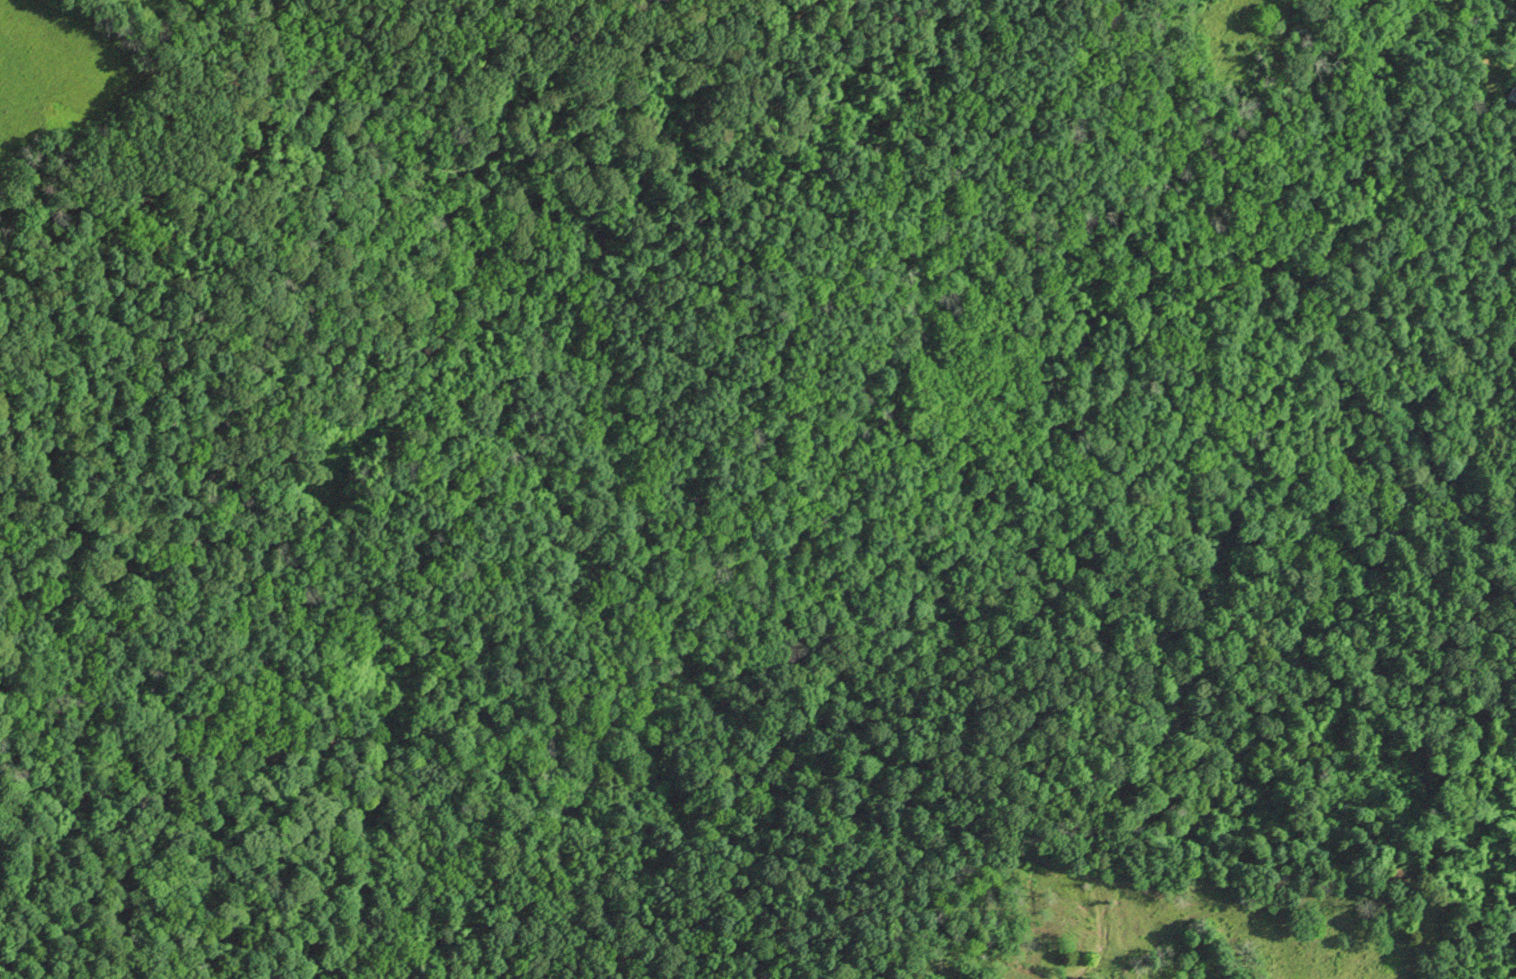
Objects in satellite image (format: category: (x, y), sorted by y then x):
building: (1512, 96)

